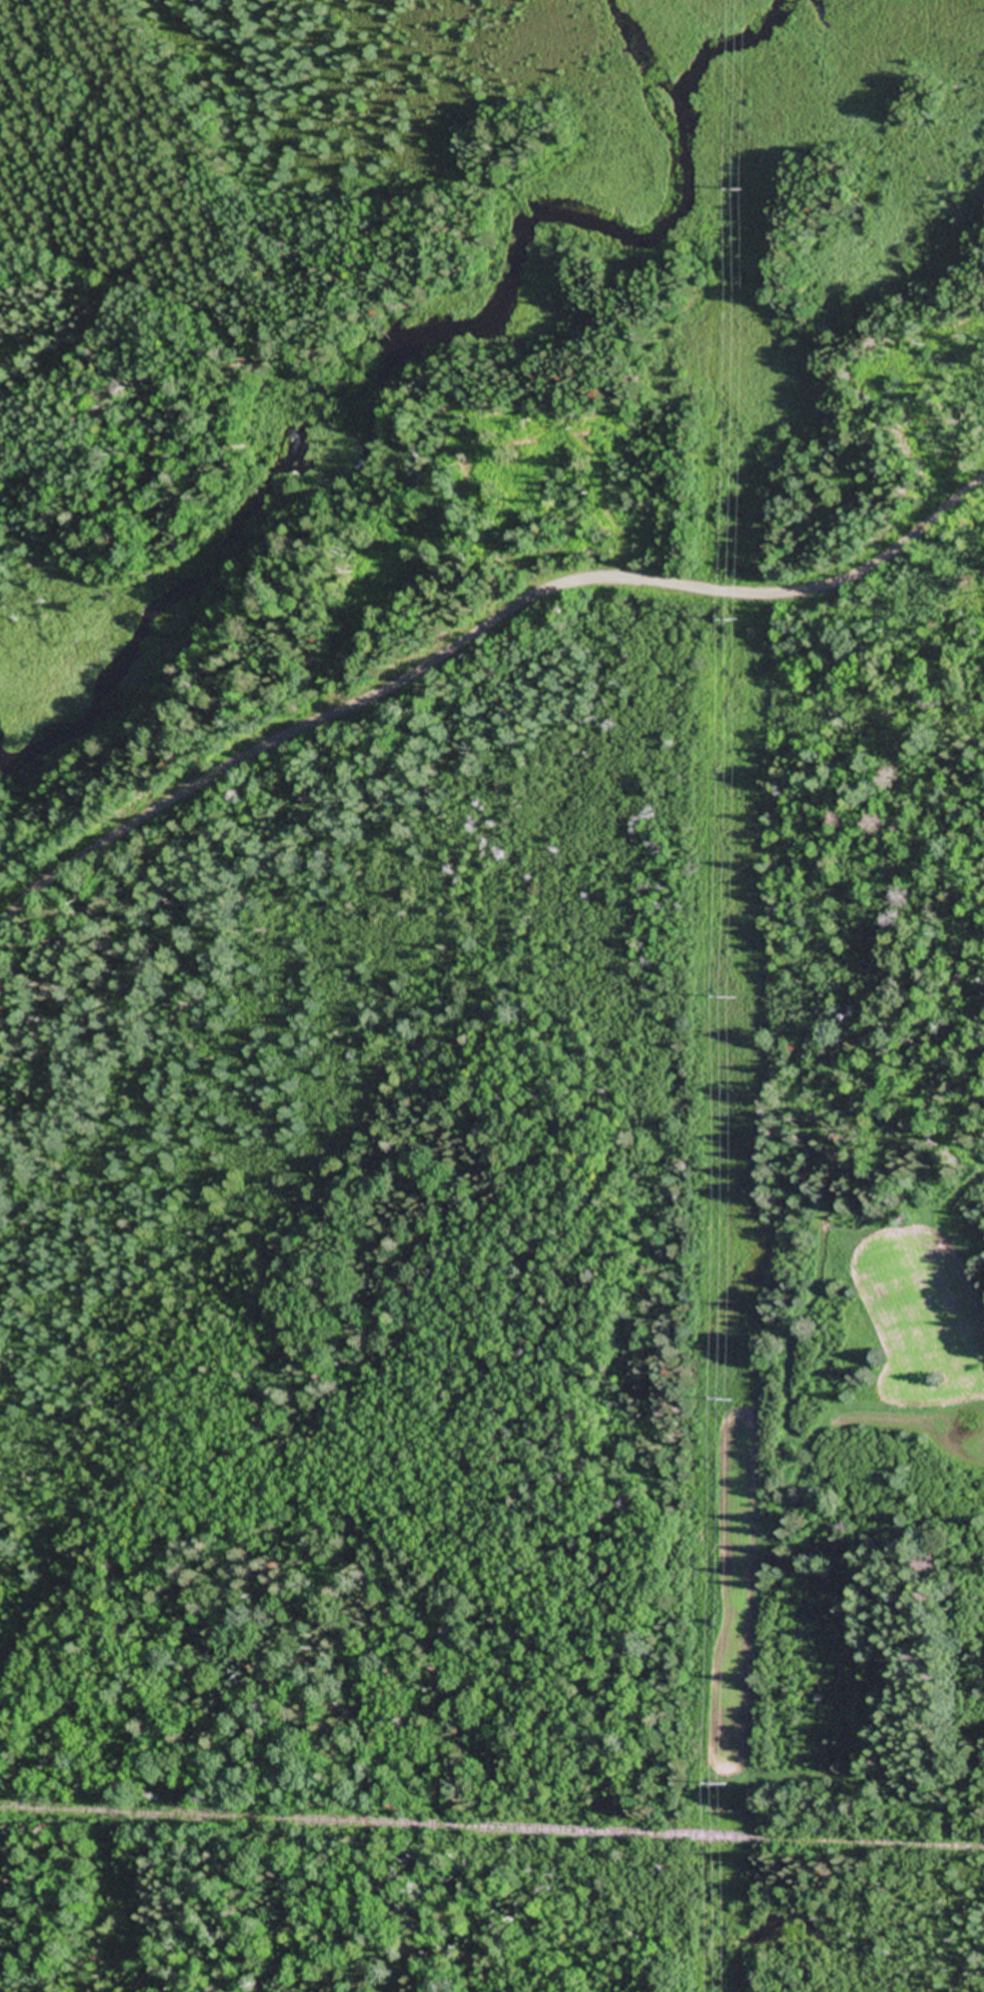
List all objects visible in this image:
power tower: (738, 191)
power tower: (735, 622)
road: (471, 631)
power tower: (728, 998)
power tower: (726, 1403)
power tower: (722, 1784)
railway: (492, 1829)
power tower: (721, 1941)

